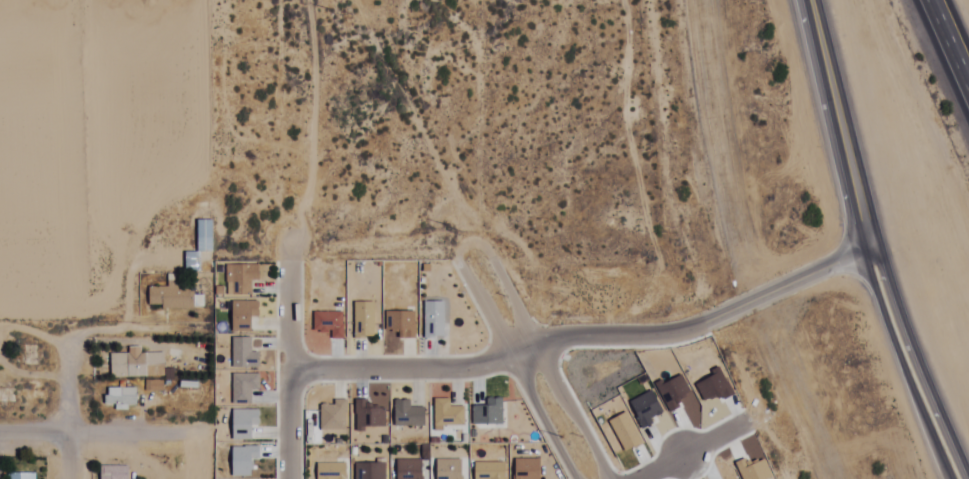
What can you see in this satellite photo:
road: (951, 40)
road: (833, 127)
road: (71, 229)
building: (204, 236)
road: (35, 250)
road: (496, 283)
building: (171, 297)
road: (477, 313)
road: (134, 334)
road: (580, 341)
road: (916, 365)
road: (897, 368)
building: (136, 369)
road: (283, 373)
building: (120, 397)
road: (566, 414)
road: (534, 419)
road: (97, 438)
road: (691, 454)
building: (112, 472)
building: (22, 476)

